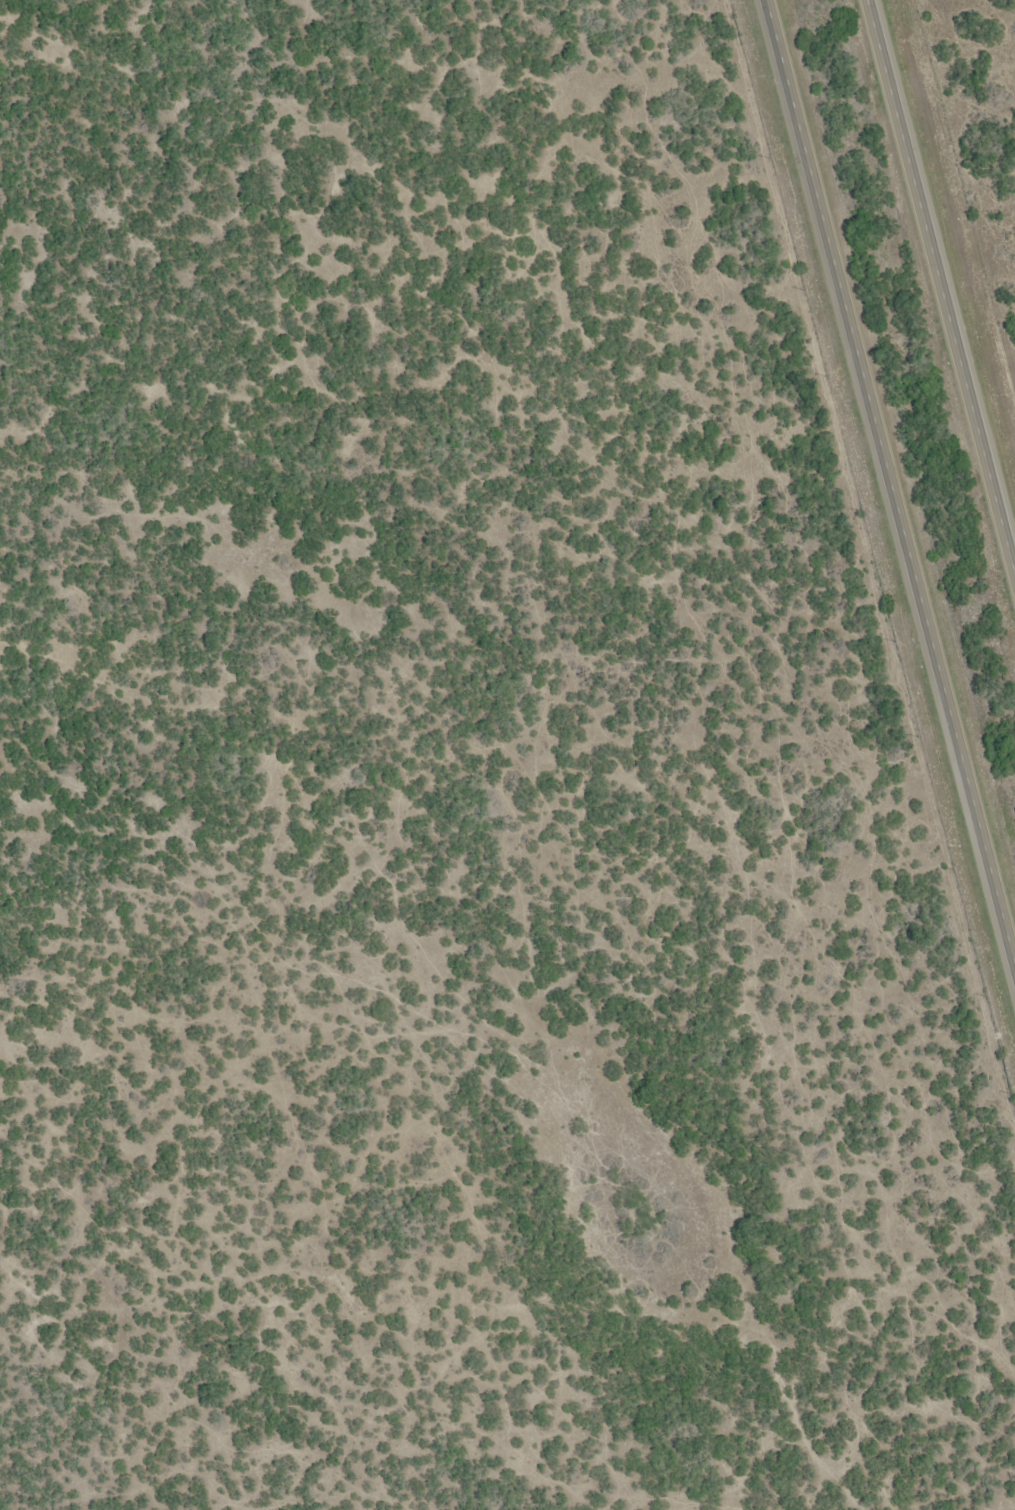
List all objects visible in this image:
road: (944, 278)
road: (894, 466)

